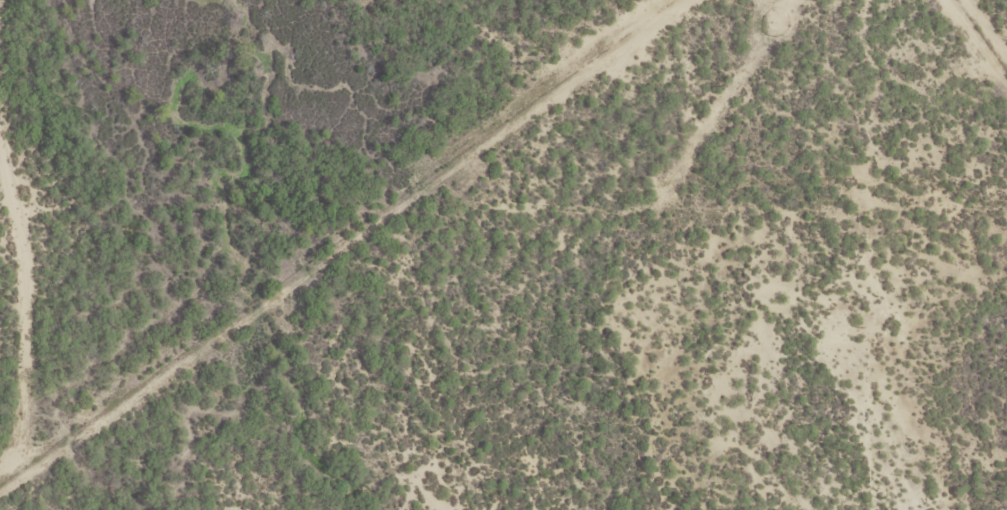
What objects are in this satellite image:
road: (941, 96)
road: (321, 238)

